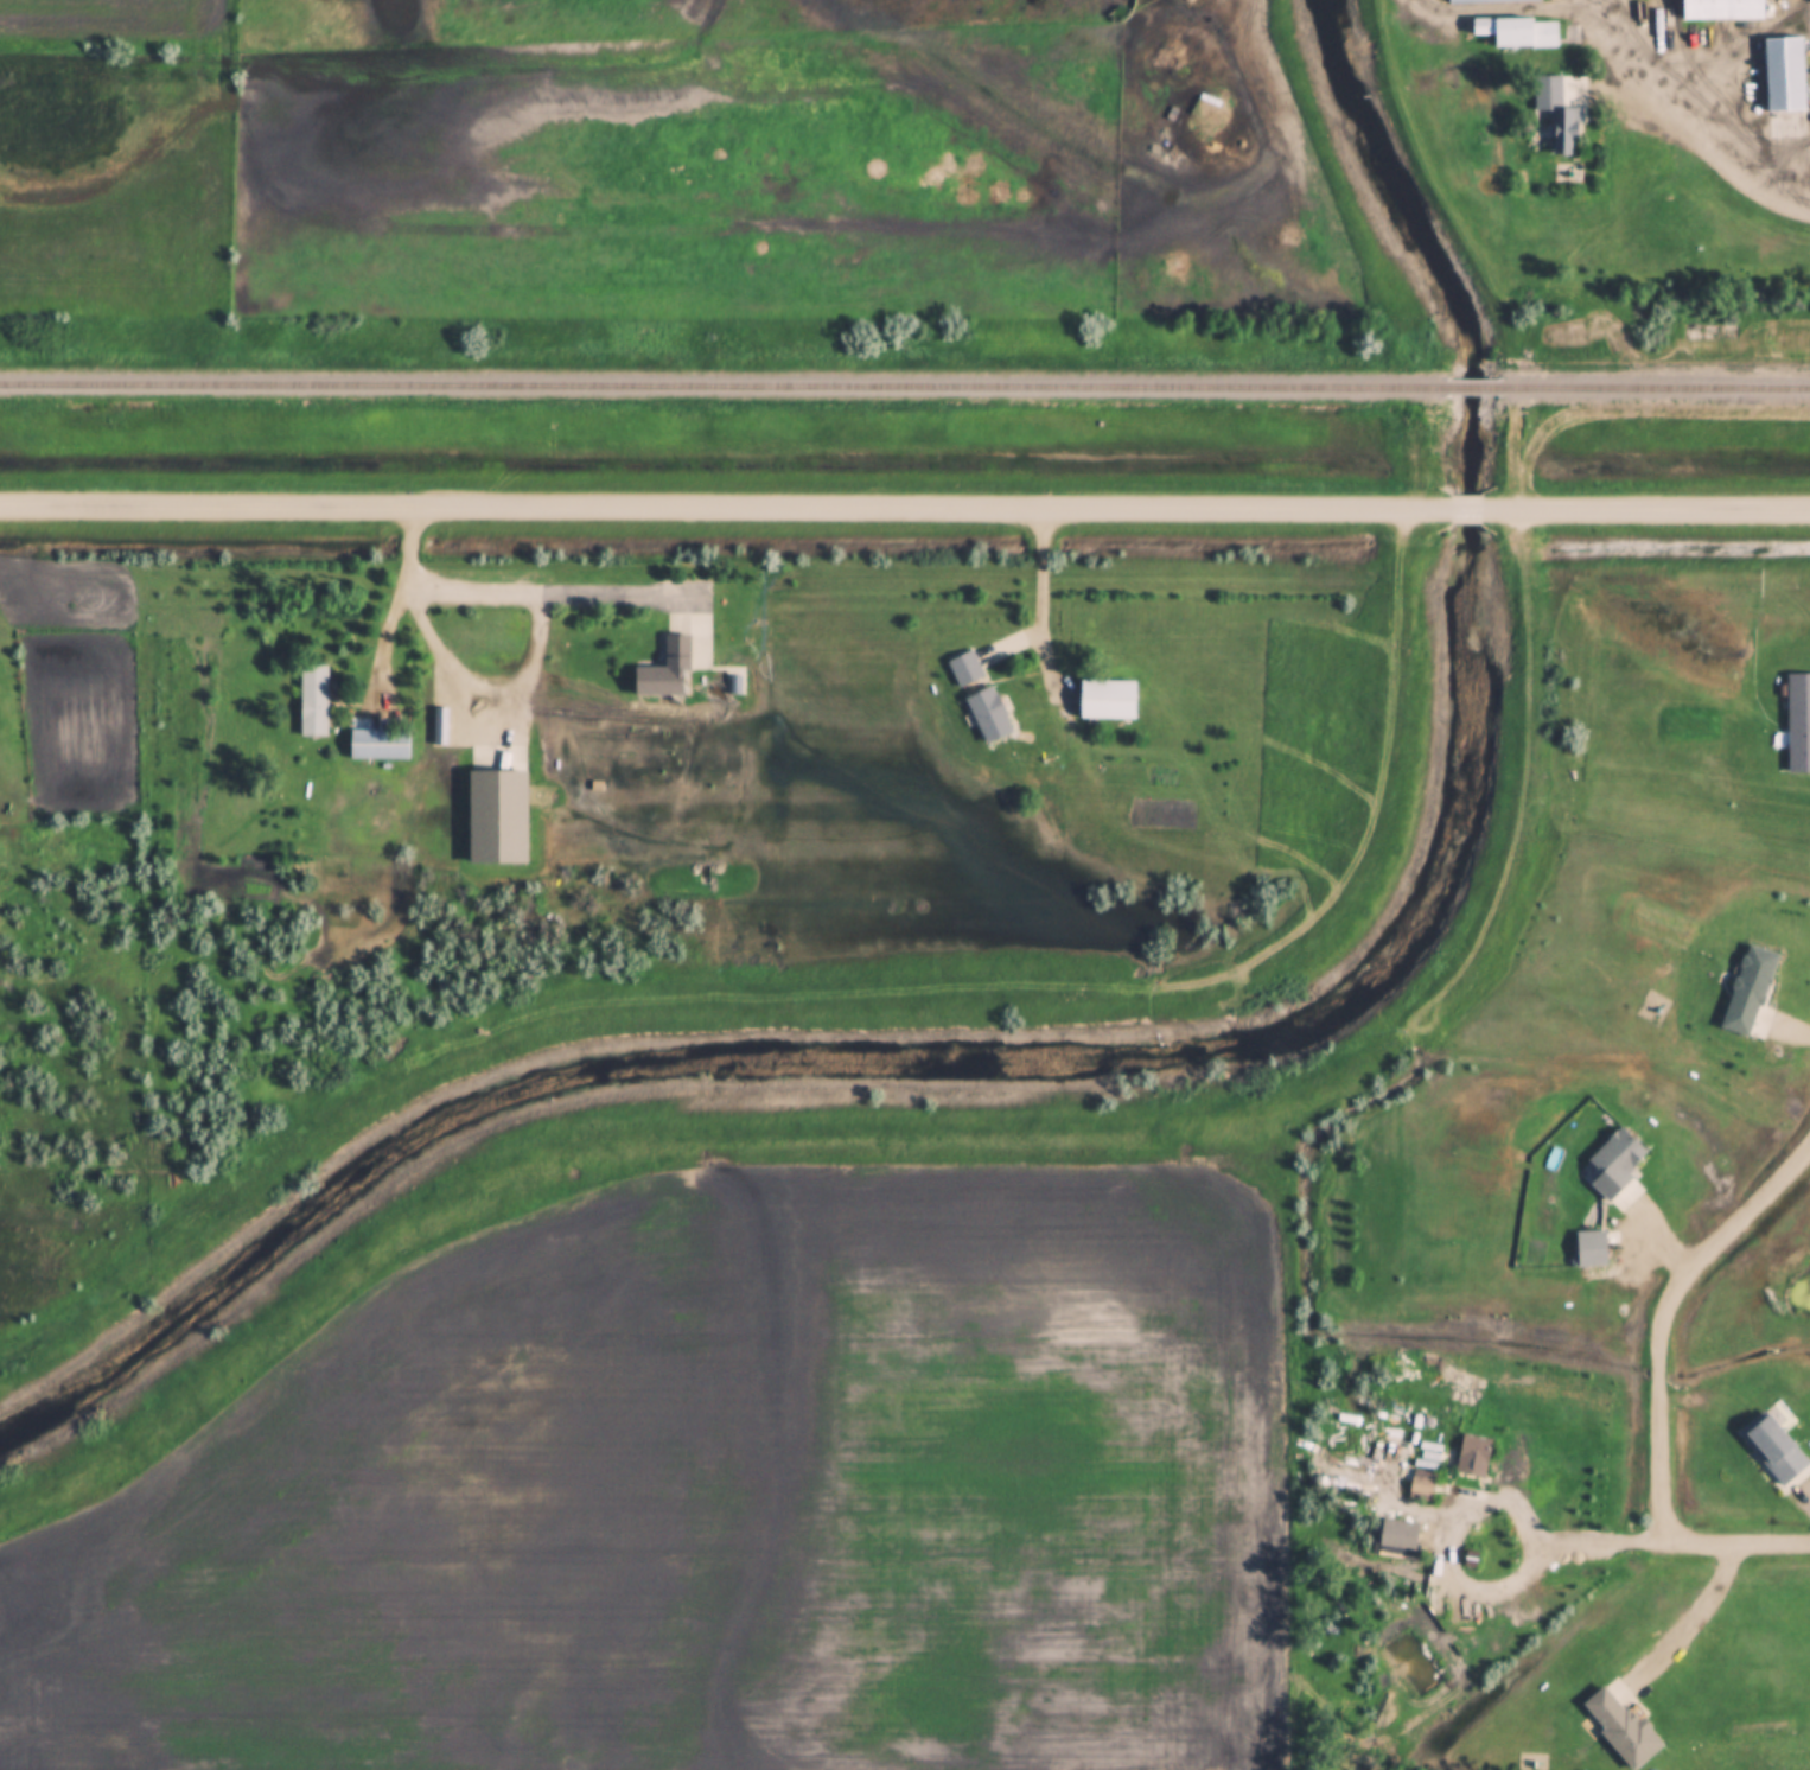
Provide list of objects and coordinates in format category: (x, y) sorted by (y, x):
building: (1489, 0)
building: (1722, 9)
crop: (109, 15)
building: (1517, 31)
building: (1784, 75)
building: (1563, 132)
crop: (764, 158)
road: (1751, 178)
crop: (113, 183)
railway: (722, 387)
railway: (1470, 389)
railway: (1652, 389)
road: (721, 503)
road: (1642, 509)
road: (1458, 510)
road: (622, 590)
road: (1040, 606)
road: (690, 626)
building: (964, 669)
building: (665, 671)
road: (520, 685)
building: (313, 700)
building: (1107, 700)
building: (987, 714)
building: (1798, 724)
building: (378, 745)
building: (496, 808)
building: (1751, 995)
building: (1615, 1171)
building: (1591, 1250)
road: (1664, 1389)
building: (1773, 1450)
building: (1473, 1456)
building: (1422, 1485)
road: (1453, 1490)
crop: (718, 1497)
road: (1706, 1621)
building: (1619, 1728)

